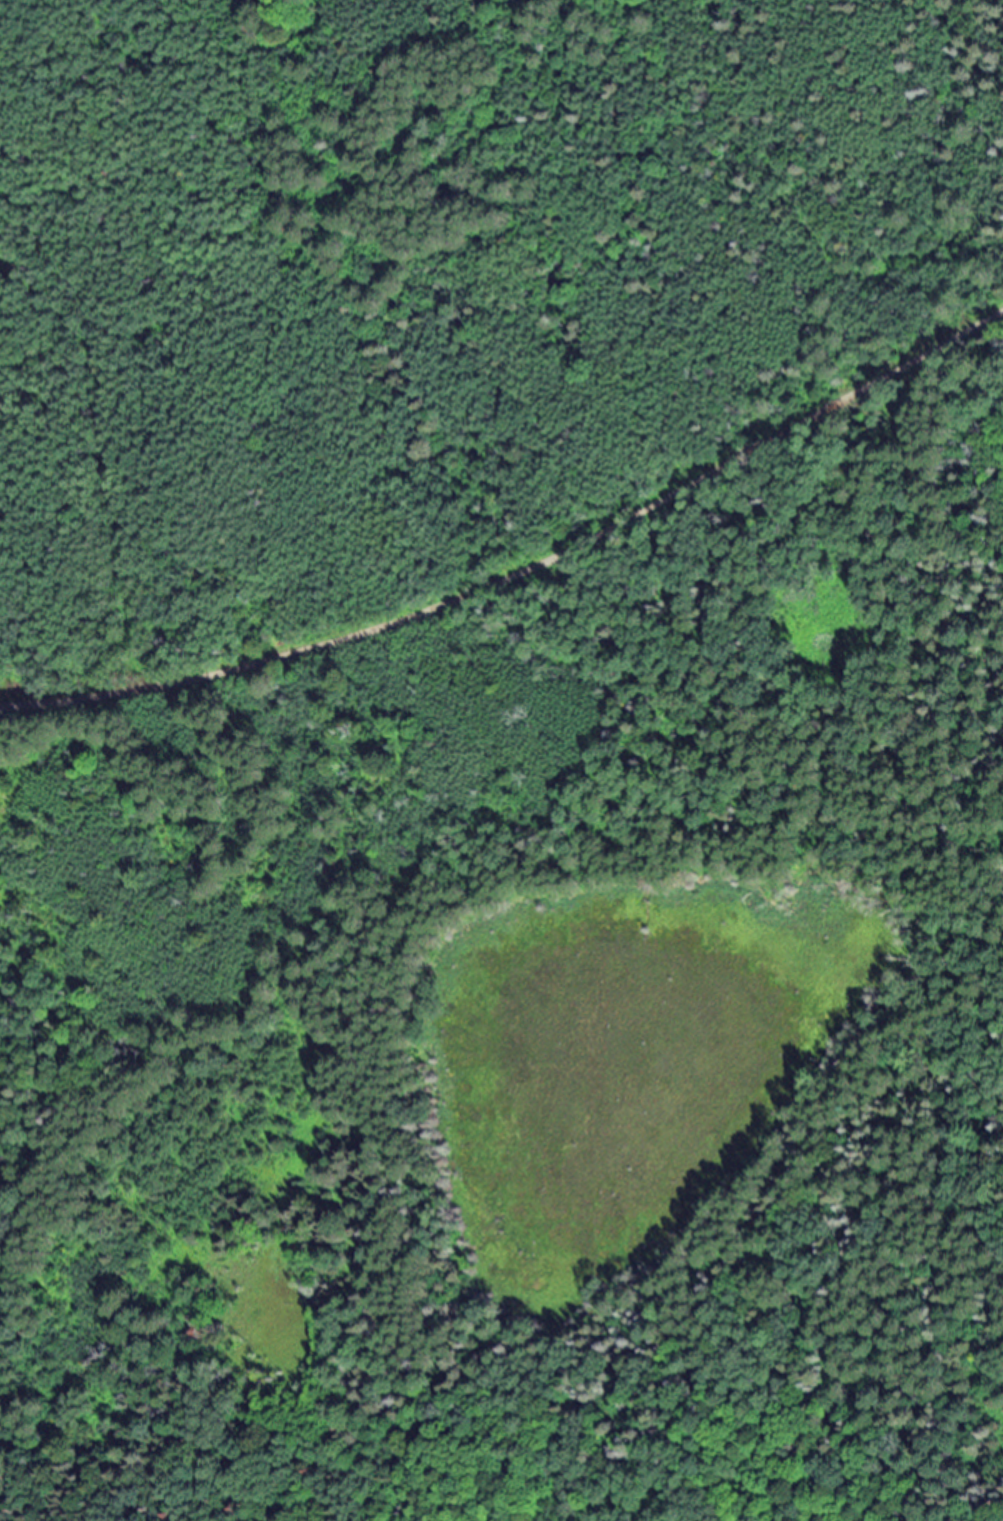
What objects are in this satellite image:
road: (525, 568)

